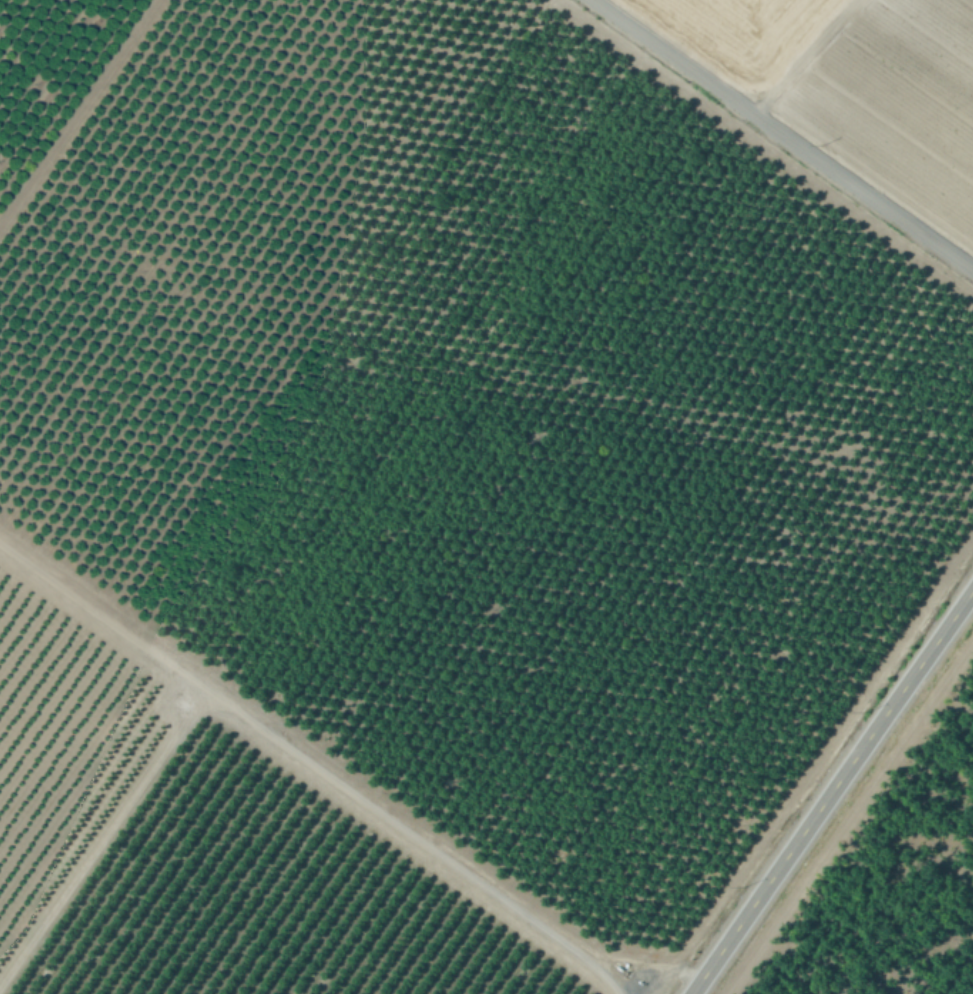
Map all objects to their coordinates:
road: (801, 57)
crop: (854, 82)
road: (780, 135)
road: (832, 791)

